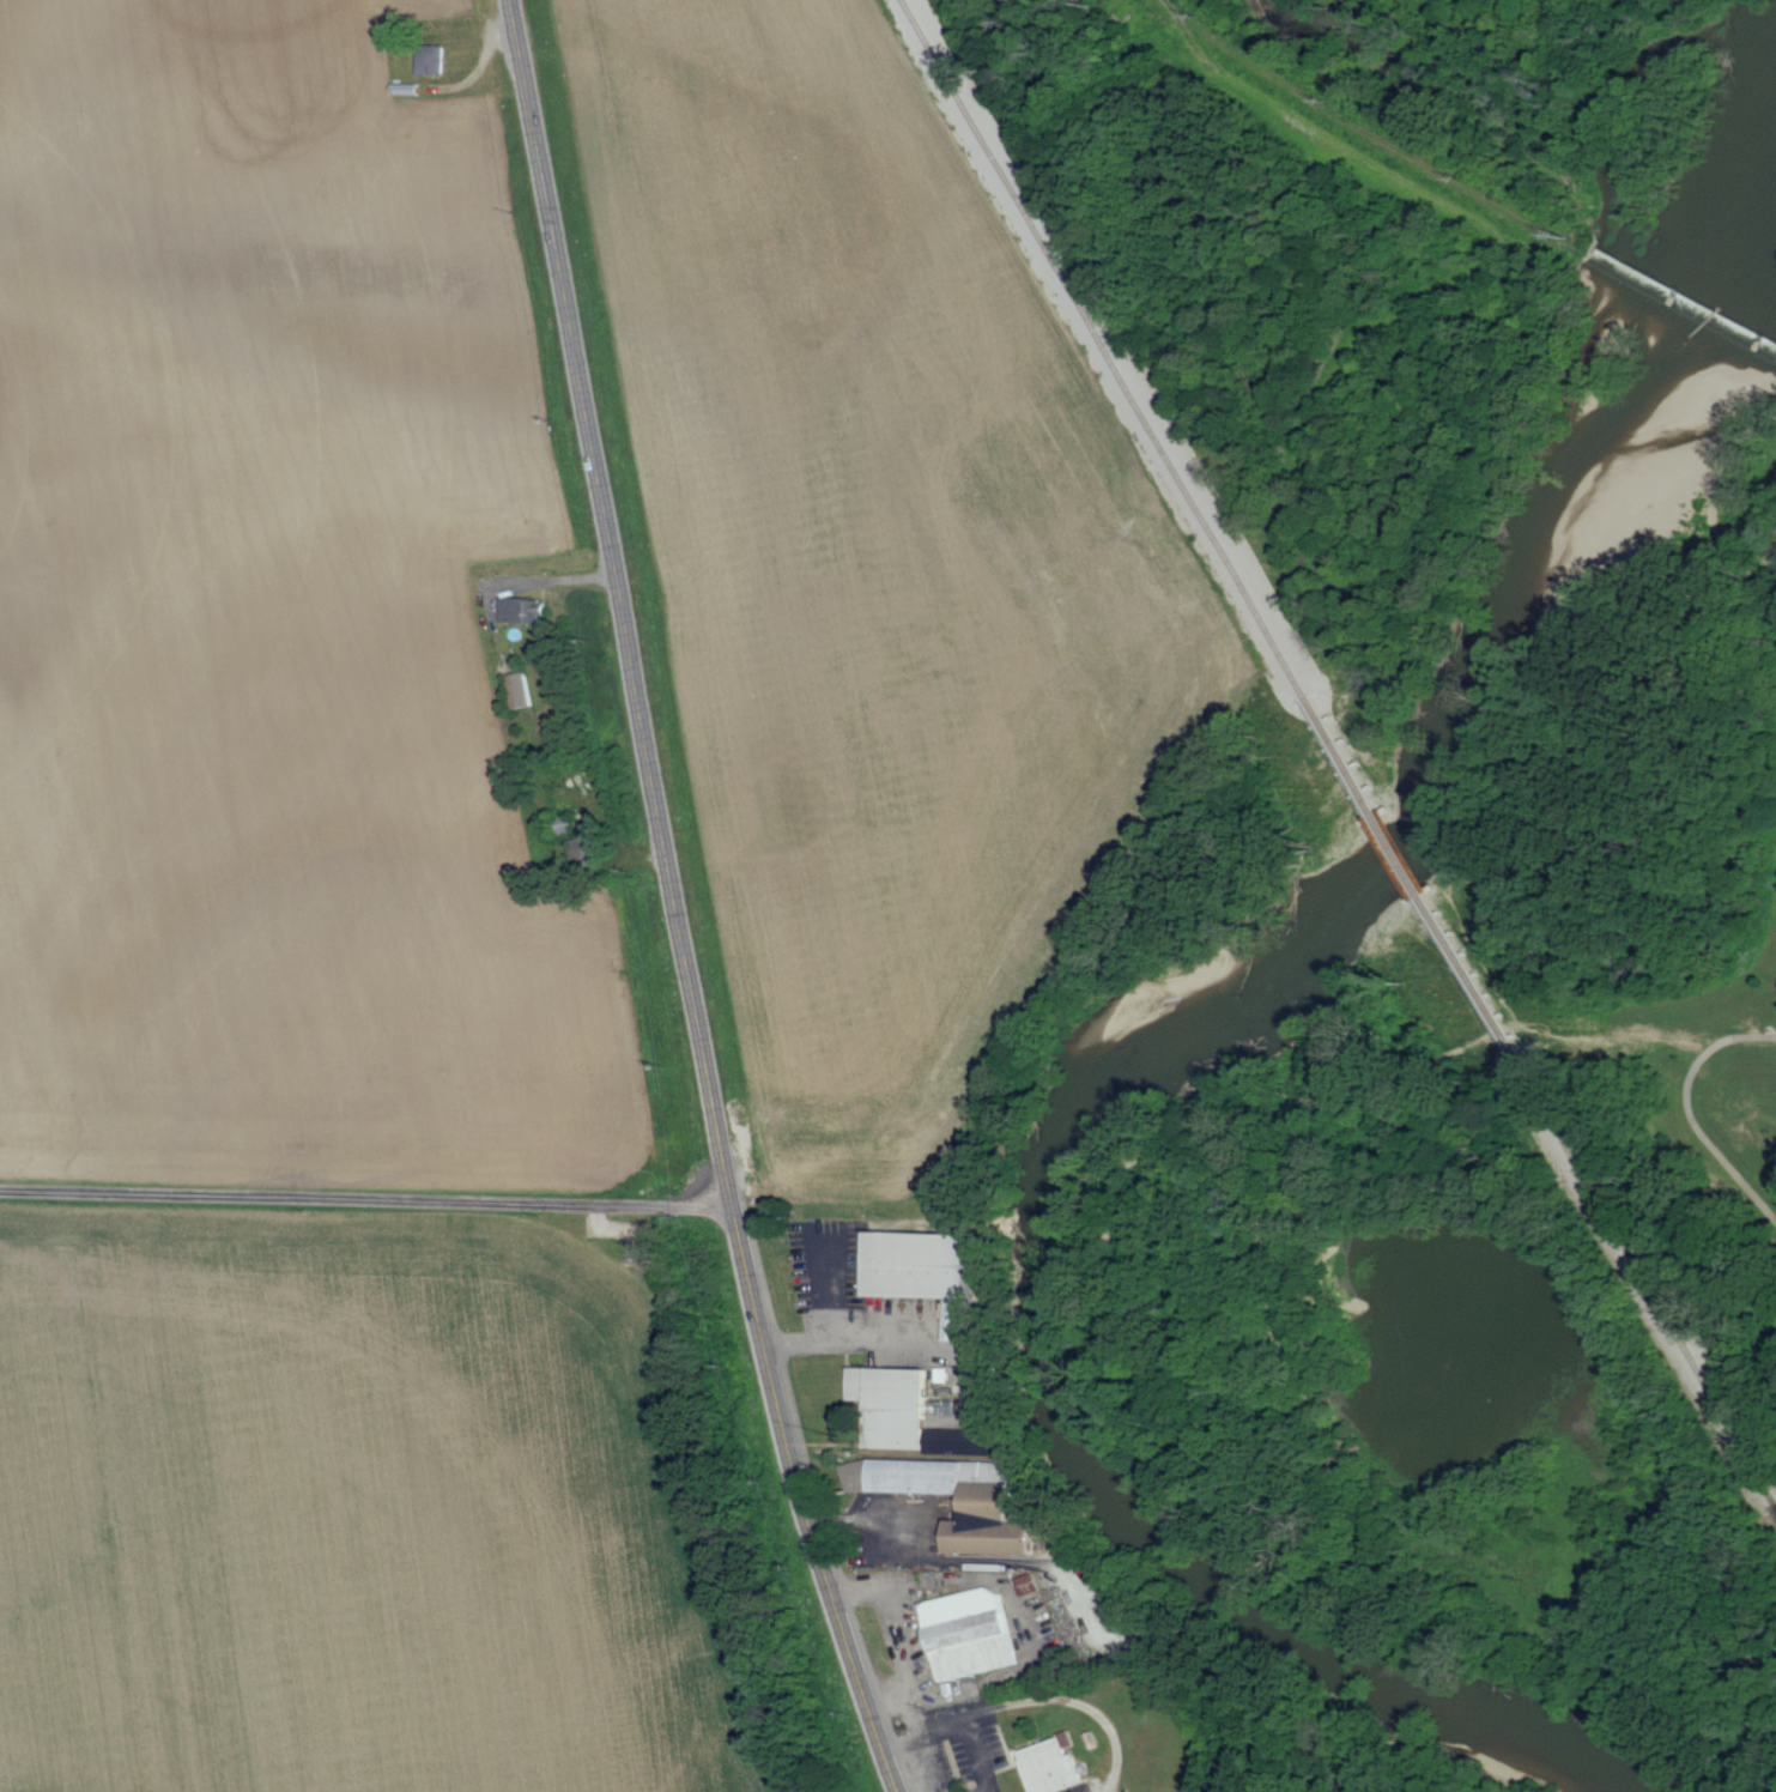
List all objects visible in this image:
building: (432, 61)
railway: (1109, 352)
building: (523, 609)
building: (522, 689)
railway: (1416, 878)
road: (678, 902)
river: (1192, 1023)
road: (1693, 1110)
road: (366, 1199)
park: (1513, 1205)
building: (922, 1263)
railway: (1645, 1266)
road: (829, 1291)
road: (868, 1343)
building: (889, 1403)
building: (966, 1441)
building: (982, 1506)
crop: (354, 1514)
road: (932, 1552)
building: (1030, 1585)
road: (899, 1612)
building: (965, 1631)
road: (1001, 1678)
road: (1031, 1697)
road: (977, 1755)
building: (1047, 1766)

